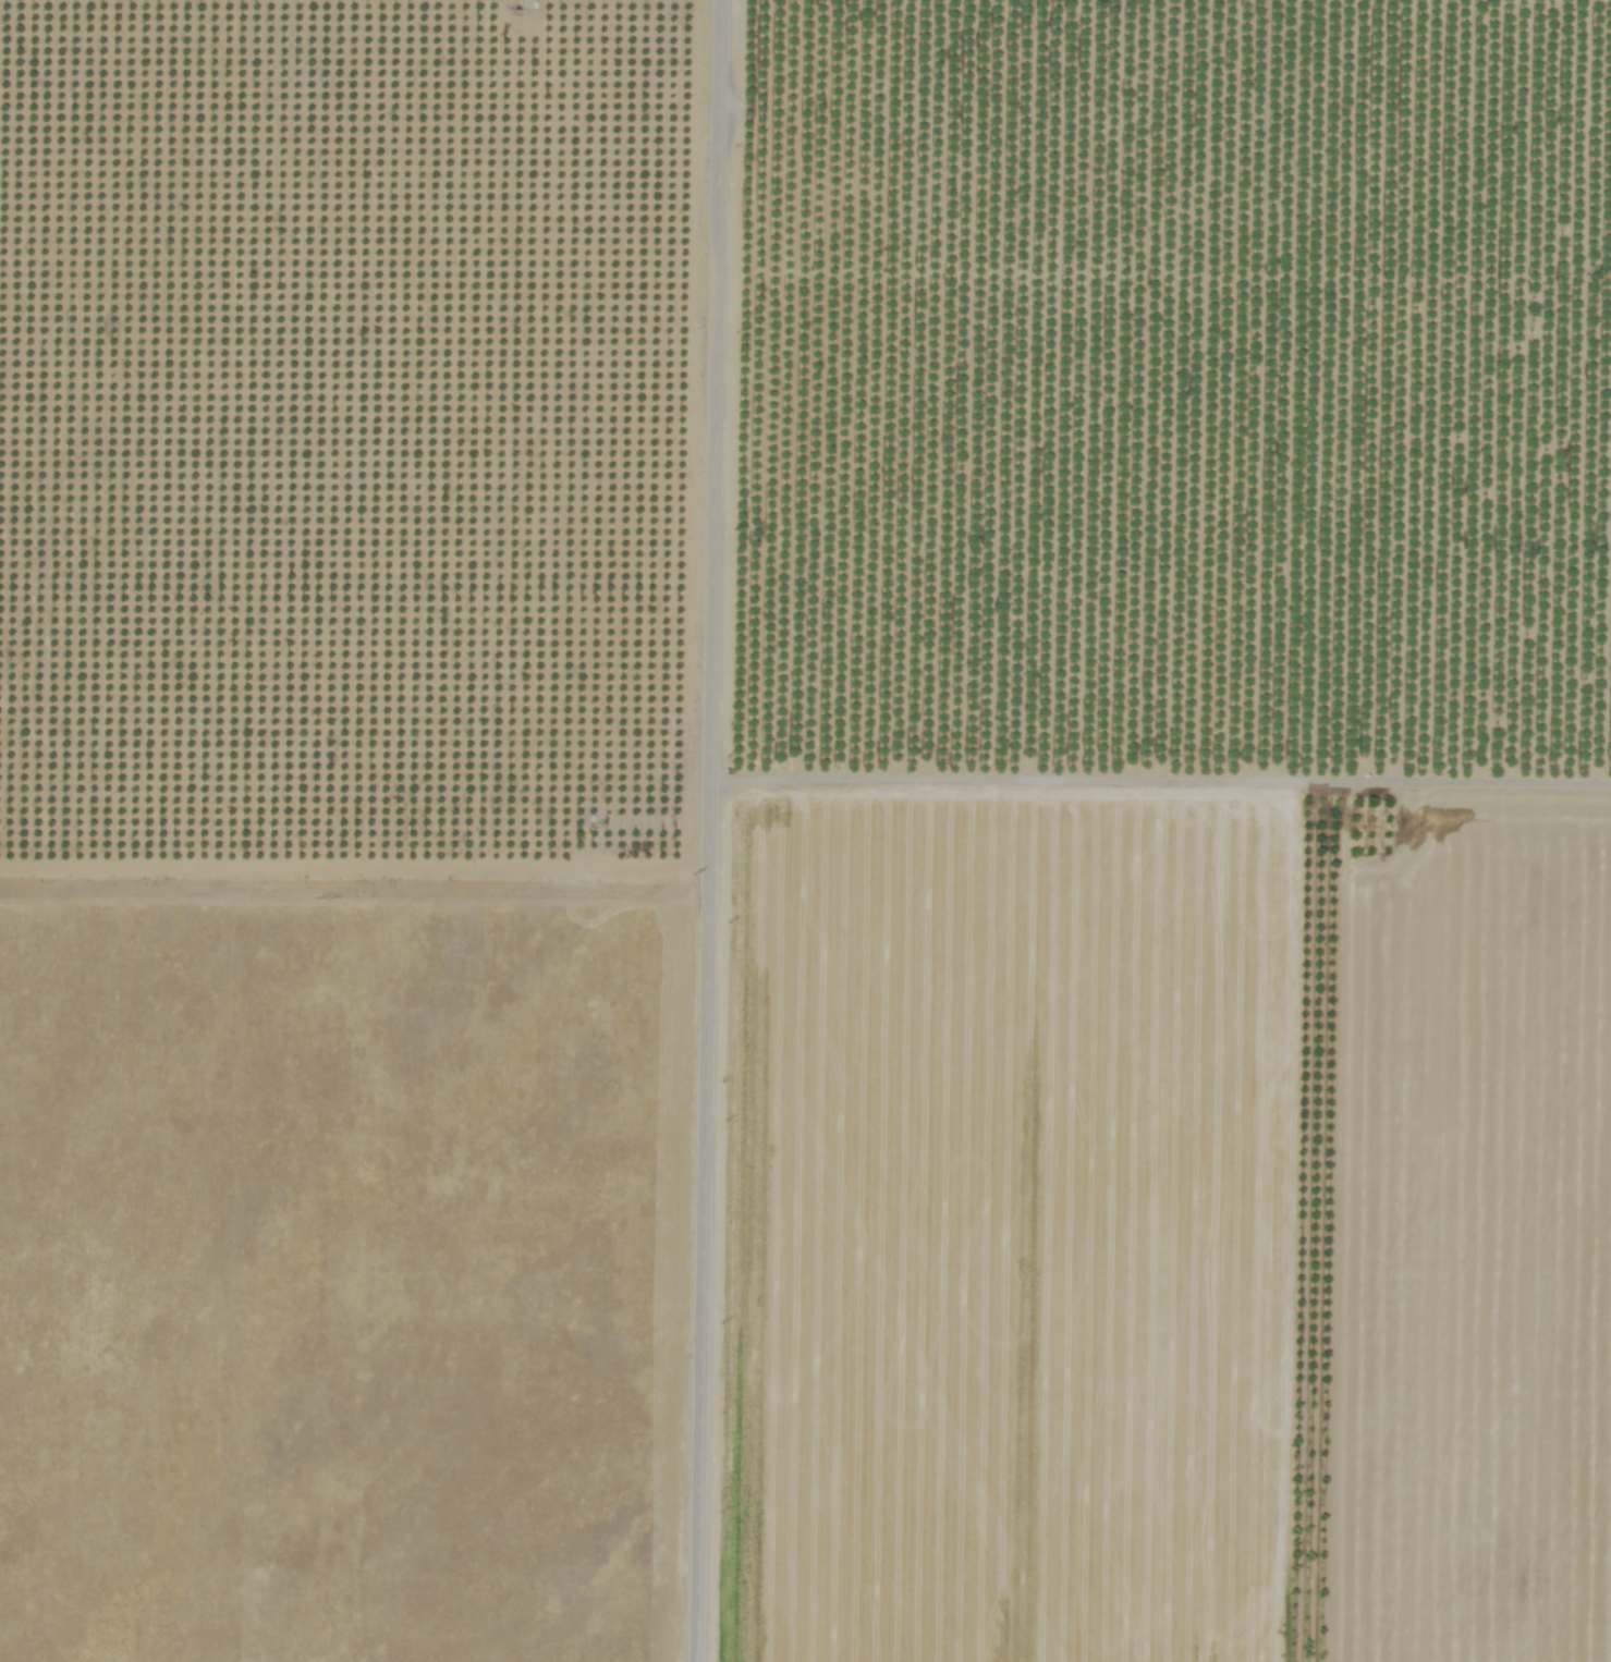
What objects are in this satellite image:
road: (1164, 780)
road: (717, 830)
crop: (805, 831)

